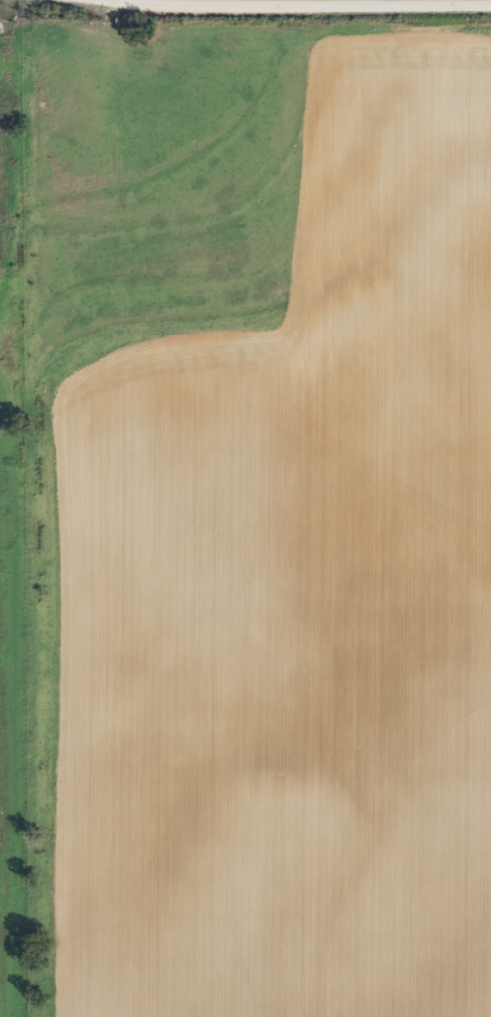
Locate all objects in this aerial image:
road: (245, 20)

